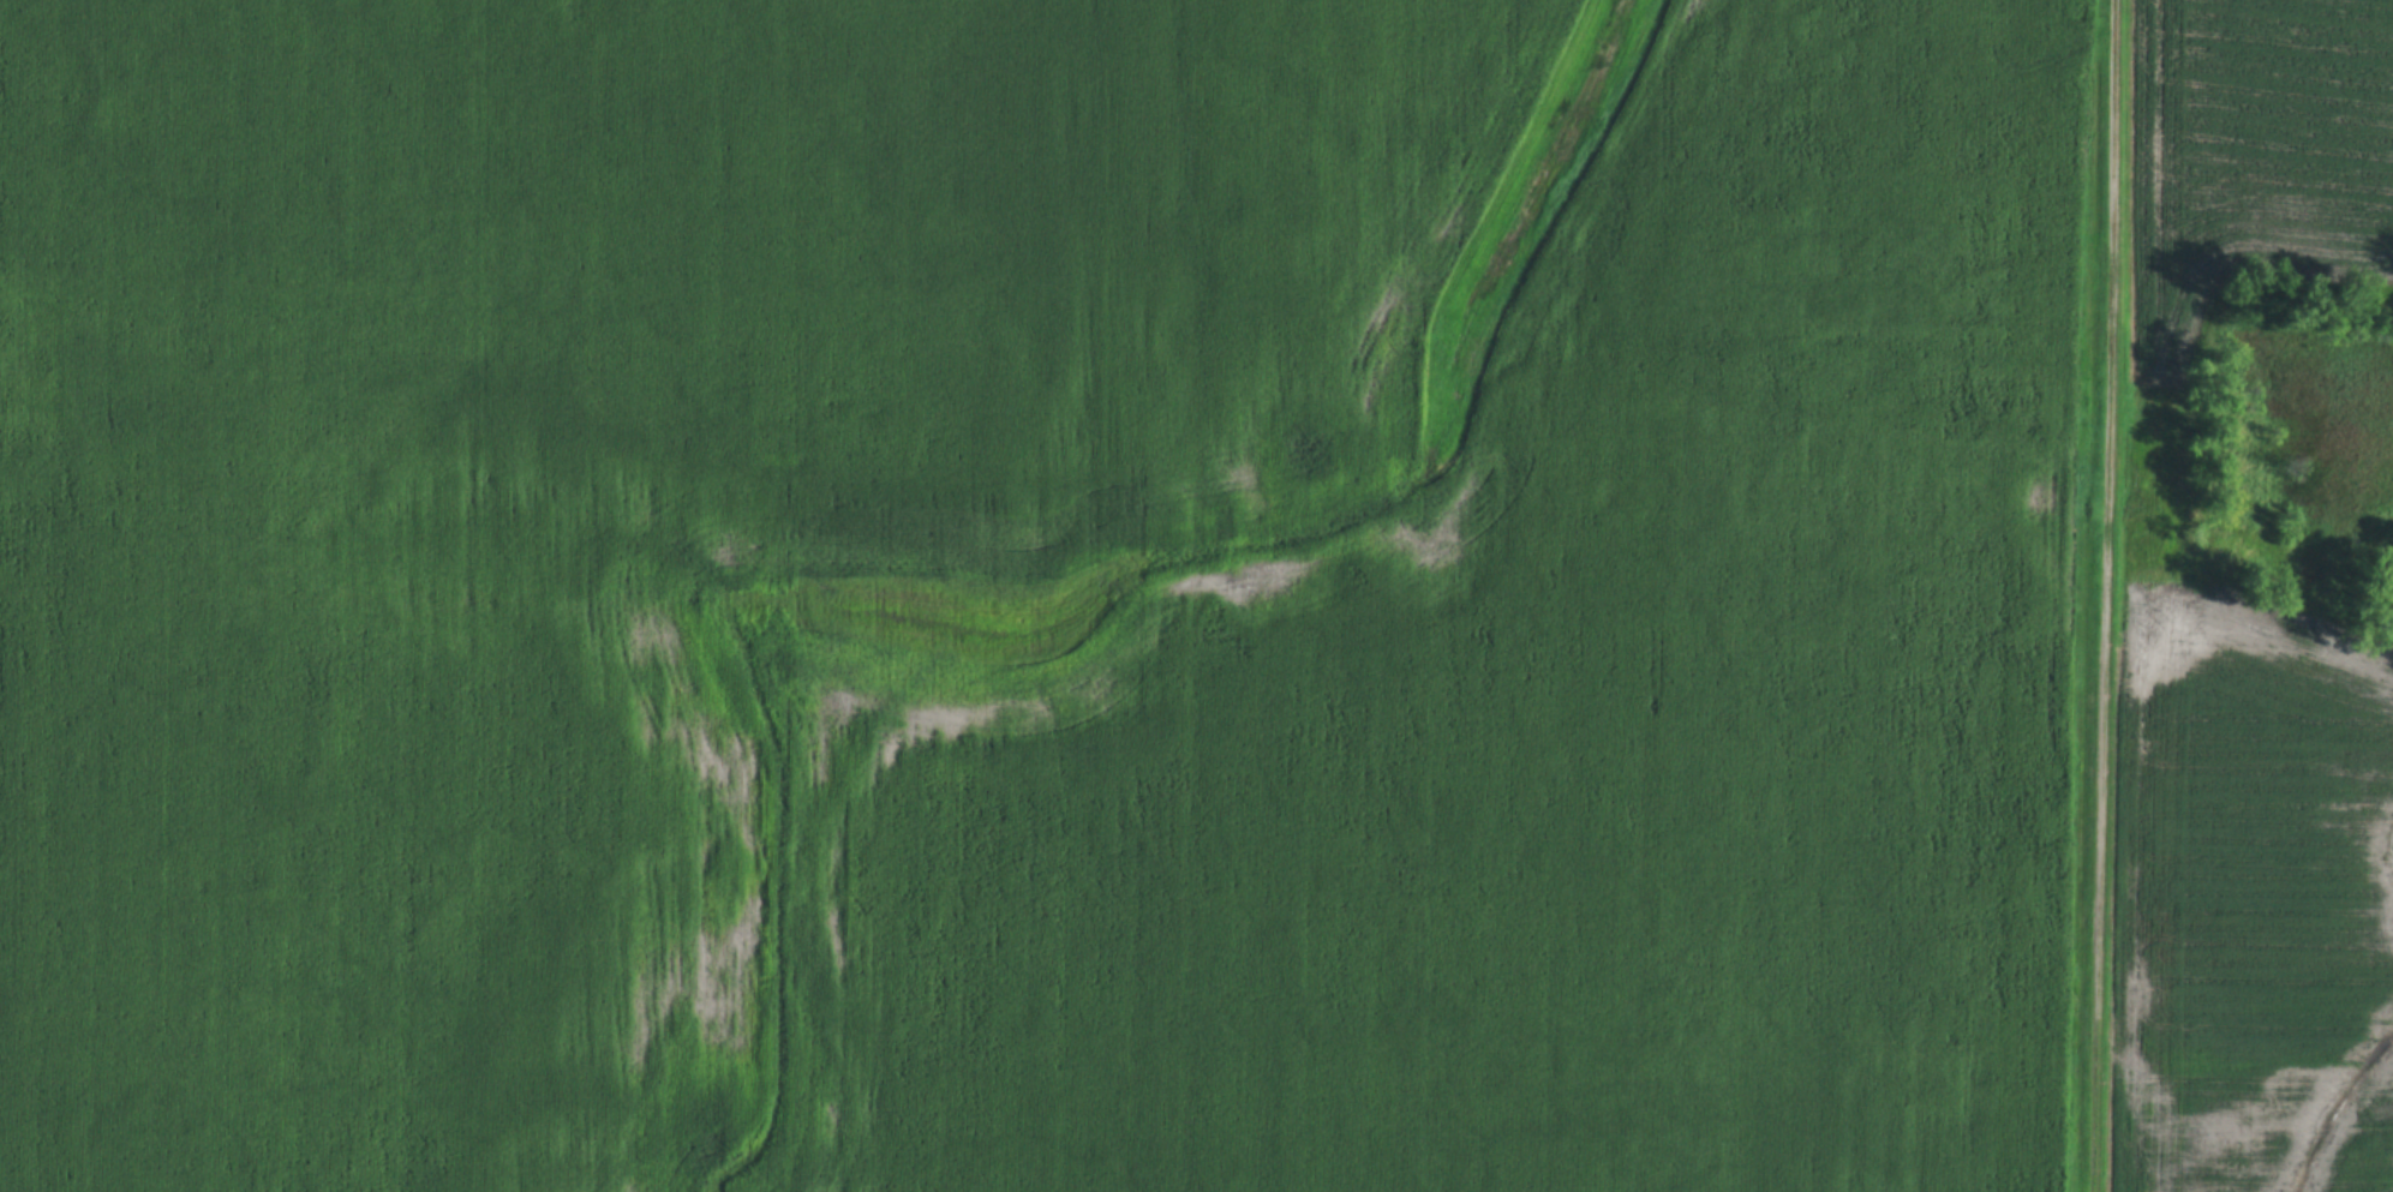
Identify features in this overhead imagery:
road: (2112, 594)

